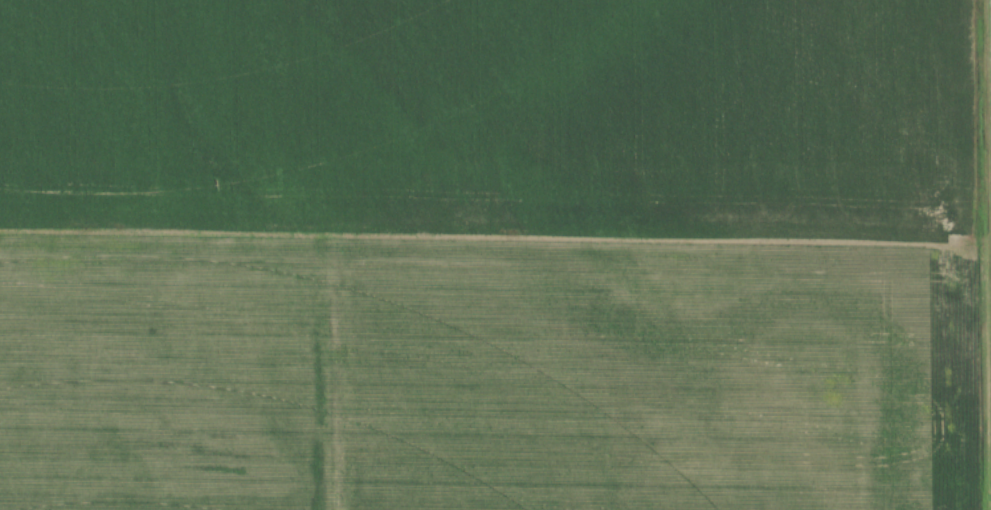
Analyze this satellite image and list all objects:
road: (990, 40)

